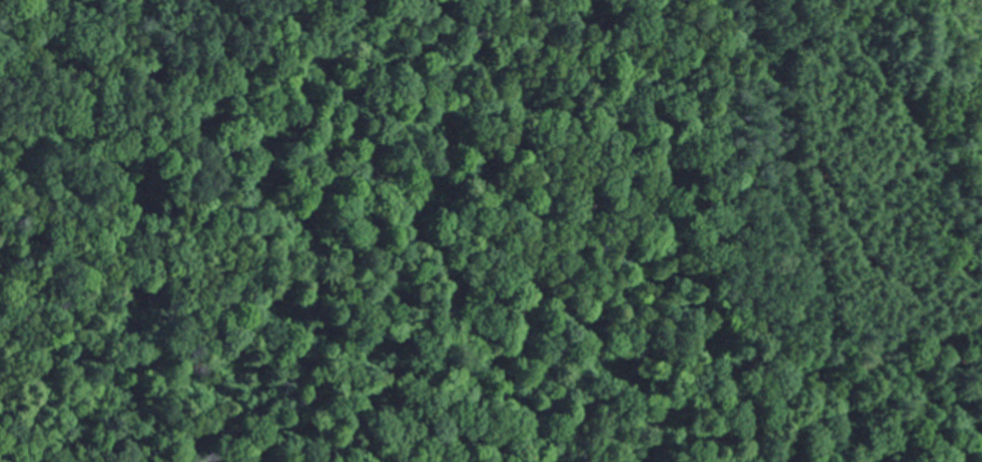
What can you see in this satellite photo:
road: (410, 231)

